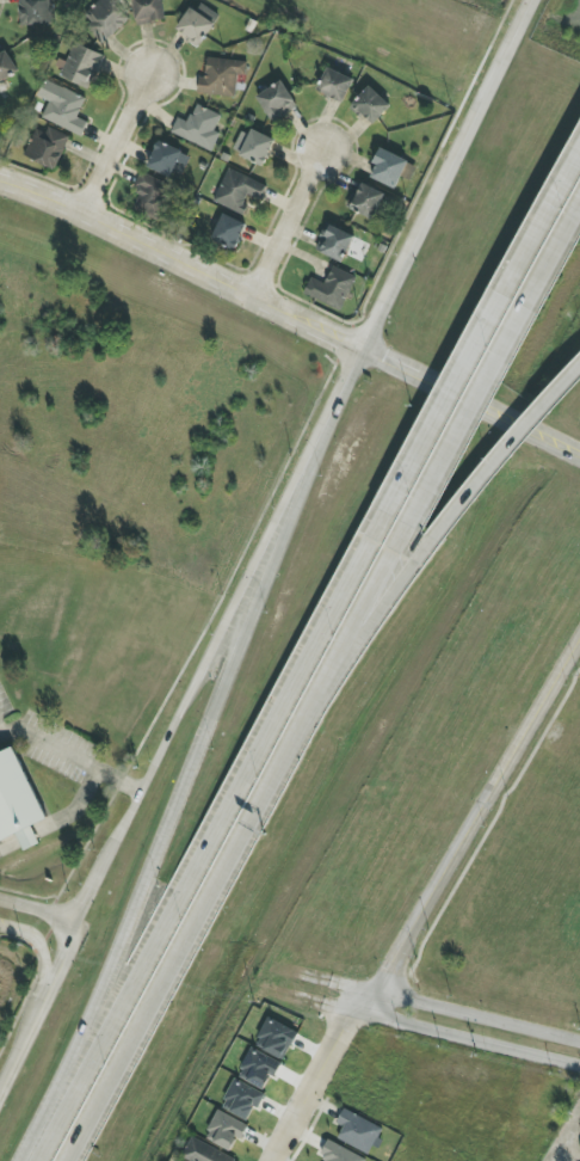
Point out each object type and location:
building: (35, 12)
building: (149, 12)
building: (105, 19)
building: (198, 23)
building: (82, 66)
building: (6, 67)
building: (222, 76)
building: (335, 85)
building: (277, 100)
building: (371, 106)
building: (64, 110)
building: (199, 128)
road: (118, 142)
building: (47, 147)
building: (253, 147)
building: (166, 160)
building: (389, 168)
road: (449, 178)
building: (237, 191)
building: (152, 197)
building: (368, 202)
road: (290, 225)
building: (229, 232)
building: (337, 244)
road: (184, 263)
building: (332, 288)
road: (481, 332)
road: (495, 373)
road: (471, 406)
road: (328, 428)
road: (506, 453)
road: (381, 579)
road: (391, 585)
road: (200, 671)
road: (69, 756)
building: (17, 801)
road: (57, 819)
road: (482, 819)
road: (163, 827)
road: (211, 835)
road: (91, 883)
road: (208, 896)
road: (36, 910)
road: (38, 947)
road: (56, 957)
road: (340, 982)
road: (322, 1002)
road: (479, 1016)
road: (20, 1036)
building: (276, 1039)
road: (469, 1039)
building: (259, 1069)
road: (322, 1074)
building: (242, 1100)
building: (226, 1130)
building: (358, 1132)
road: (564, 1132)
building: (203, 1153)
building: (339, 1154)
road: (38, 1159)
road: (560, 1159)

